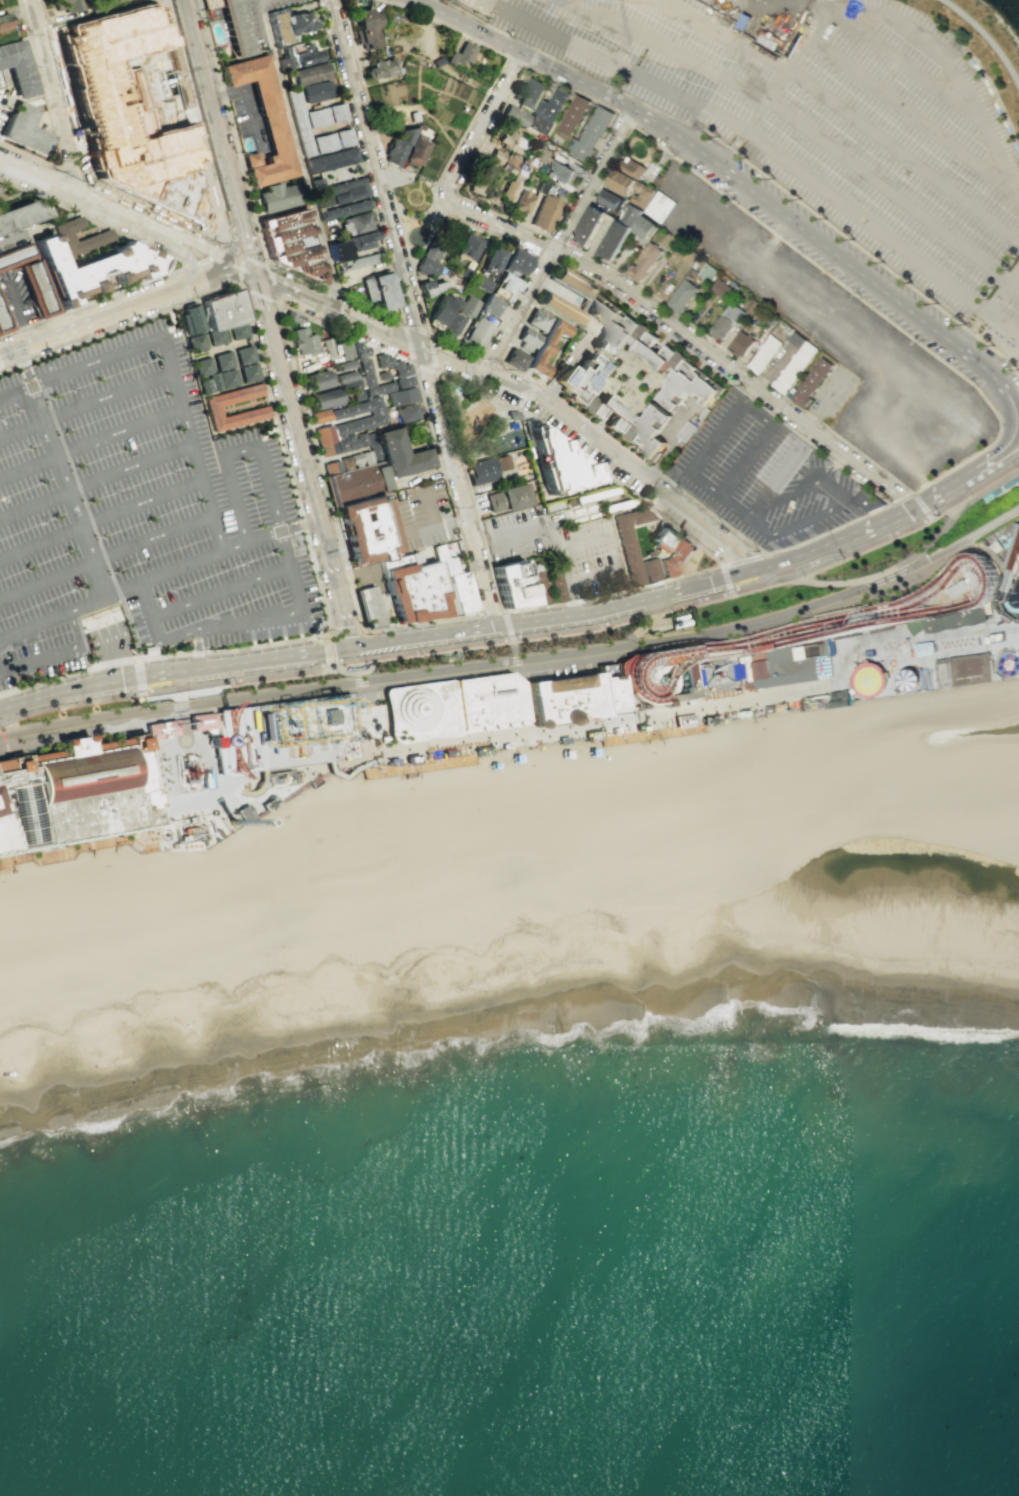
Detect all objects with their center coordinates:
building: (111, 1)
road: (786, 4)
building: (67, 5)
building: (298, 23)
road: (468, 24)
building: (4, 27)
building: (364, 27)
building: (277, 28)
park: (982, 35)
road: (985, 37)
road: (660, 52)
building: (459, 53)
building: (299, 57)
road: (801, 57)
road: (531, 58)
road: (516, 60)
road: (903, 66)
road: (617, 67)
building: (16, 68)
building: (379, 68)
building: (308, 74)
building: (317, 91)
road: (226, 92)
building: (255, 93)
building: (529, 93)
road: (417, 94)
road: (26, 96)
road: (55, 97)
parking lot: (5, 101)
road: (211, 105)
building: (132, 106)
road: (839, 107)
building: (546, 111)
building: (337, 112)
road: (47, 114)
parking lot: (248, 115)
building: (571, 115)
building: (515, 116)
building: (318, 117)
road: (627, 118)
road: (754, 119)
road: (195, 120)
building: (300, 120)
road: (482, 122)
road: (252, 123)
parking lot: (829, 127)
building: (22, 130)
road: (232, 133)
building: (589, 135)
building: (343, 137)
building: (325, 142)
building: (510, 142)
building: (397, 146)
road: (730, 149)
building: (415, 150)
road: (299, 153)
road: (83, 158)
building: (493, 159)
road: (251, 160)
building: (331, 160)
building: (533, 160)
building: (510, 161)
road: (235, 163)
road: (748, 163)
building: (629, 167)
building: (560, 171)
road: (1003, 171)
road: (376, 172)
road: (72, 175)
road: (418, 180)
road: (870, 181)
building: (617, 182)
road: (419, 184)
building: (676, 184)
building: (542, 185)
building: (508, 189)
road: (79, 193)
building: (340, 193)
building: (639, 195)
building: (276, 197)
road: (406, 200)
building: (607, 200)
building: (521, 202)
road: (1018, 202)
building: (664, 205)
building: (649, 207)
building: (344, 209)
park: (413, 209)
building: (545, 213)
building: (19, 214)
building: (629, 215)
building: (708, 215)
road: (783, 215)
building: (674, 221)
road: (863, 223)
building: (357, 224)
road: (47, 225)
road: (498, 225)
building: (587, 227)
building: (641, 228)
road: (378, 230)
road: (545, 232)
road: (234, 235)
building: (98, 236)
road: (425, 236)
road: (559, 239)
road: (221, 240)
building: (362, 241)
building: (613, 241)
road: (247, 242)
building: (666, 242)
building: (291, 244)
road: (213, 246)
building: (467, 246)
road: (233, 247)
road: (208, 251)
building: (337, 251)
building: (432, 251)
road: (183, 253)
road: (543, 256)
building: (493, 258)
road: (253, 260)
building: (362, 261)
building: (516, 261)
road: (199, 262)
building: (641, 262)
road: (182, 263)
road: (813, 264)
building: (425, 266)
building: (92, 268)
road: (238, 269)
building: (463, 273)
building: (30, 278)
road: (600, 282)
building: (480, 283)
building: (572, 284)
road: (272, 286)
road: (1013, 287)
building: (428, 288)
building: (503, 288)
building: (721, 290)
road: (1002, 290)
building: (378, 291)
road: (258, 295)
road: (513, 295)
building: (680, 296)
building: (488, 306)
building: (750, 306)
building: (467, 307)
building: (441, 309)
building: (558, 309)
road: (20, 311)
building: (222, 311)
road: (116, 313)
building: (292, 317)
building: (192, 319)
building: (537, 319)
building: (4, 320)
road: (402, 321)
building: (724, 321)
road: (171, 322)
building: (450, 325)
road: (1002, 326)
road: (118, 327)
building: (610, 328)
building: (785, 329)
road: (969, 329)
building: (239, 333)
building: (477, 335)
road: (394, 337)
building: (217, 338)
building: (527, 338)
building: (303, 342)
building: (197, 344)
building: (739, 344)
building: (326, 347)
building: (544, 347)
building: (345, 350)
building: (358, 350)
building: (653, 351)
building: (763, 353)
road: (173, 355)
road: (857, 355)
building: (245, 356)
building: (515, 359)
road: (487, 360)
building: (224, 362)
building: (793, 362)
road: (740, 363)
building: (346, 364)
building: (392, 365)
building: (364, 366)
road: (26, 368)
building: (202, 368)
road: (468, 368)
road: (737, 373)
building: (250, 374)
building: (345, 376)
building: (382, 376)
building: (228, 380)
building: (367, 380)
building: (577, 380)
building: (315, 381)
building: (215, 382)
building: (403, 382)
building: (809, 383)
building: (206, 387)
building: (353, 389)
building: (378, 389)
building: (687, 389)
road: (478, 390)
building: (402, 396)
building: (326, 399)
road: (88, 403)
building: (253, 413)
building: (402, 413)
building: (604, 414)
building: (703, 415)
building: (318, 416)
road: (1017, 416)
building: (373, 417)
park: (480, 421)
road: (267, 429)
building: (685, 432)
building: (646, 434)
road: (1011, 434)
road: (591, 436)
building: (362, 439)
building: (325, 440)
road: (92, 442)
building: (351, 442)
building: (341, 444)
building: (373, 445)
road: (1013, 450)
building: (400, 455)
road: (700, 455)
building: (366, 457)
road: (284, 459)
road: (306, 459)
building: (355, 459)
building: (967, 462)
building: (345, 463)
road: (320, 467)
building: (331, 467)
building: (555, 467)
road: (833, 467)
building: (486, 468)
road: (442, 474)
parking lot: (761, 476)
road: (97, 480)
road: (960, 481)
road: (652, 483)
building: (358, 484)
road: (457, 485)
road: (972, 487)
road: (69, 490)
building: (595, 495)
road: (898, 497)
building: (507, 499)
building: (866, 500)
building: (567, 501)
road: (918, 503)
road: (838, 504)
building: (550, 505)
building: (618, 505)
road: (856, 514)
parking lot: (137, 515)
road: (102, 519)
road: (91, 520)
road: (871, 524)
railway: (991, 526)
road: (304, 527)
road: (711, 527)
building: (365, 532)
road: (512, 532)
parking lot: (516, 533)
building: (663, 539)
road: (582, 540)
road: (254, 541)
building: (630, 541)
road: (612, 550)
road: (106, 556)
parking lot: (588, 557)
building: (674, 558)
railway: (932, 558)
road: (291, 559)
building: (393, 563)
road: (726, 563)
building: (1011, 563)
road: (886, 569)
building: (650, 570)
road: (563, 575)
road: (591, 575)
building: (972, 577)
building: (554, 583)
building: (452, 584)
road: (729, 585)
road: (890, 585)
building: (538, 586)
building: (503, 588)
road: (222, 591)
road: (110, 592)
road: (612, 592)
building: (413, 593)
road: (671, 594)
building: (368, 607)
road: (490, 611)
road: (895, 614)
road: (504, 616)
building: (1002, 621)
building: (945, 622)
road: (644, 624)
road: (80, 631)
road: (509, 631)
road: (594, 631)
road: (326, 633)
road: (897, 633)
road: (427, 635)
road: (113, 636)
building: (995, 637)
road: (469, 641)
traffic signals: (347, 647)
road: (231, 648)
building: (147, 649)
building: (922, 649)
road: (612, 653)
road: (943, 653)
road: (35, 662)
road: (468, 664)
building: (788, 667)
road: (368, 668)
road: (172, 670)
road: (345, 671)
railway: (460, 671)
building: (964, 671)
road: (67, 675)
road: (140, 678)
building: (655, 678)
road: (143, 688)
building: (608, 690)
road: (929, 691)
road: (523, 695)
road: (256, 697)
building: (563, 701)
building: (838, 701)
road: (178, 703)
building: (816, 704)
road: (706, 705)
building: (790, 706)
building: (451, 707)
building: (767, 709)
road: (144, 711)
road: (366, 714)
building: (744, 714)
theme park: (503, 715)
road: (163, 717)
road: (181, 718)
building: (708, 721)
building: (638, 728)
road: (75, 729)
building: (612, 730)
building: (298, 732)
building: (591, 735)
railway: (6, 736)
building: (561, 740)
road: (3, 742)
building: (480, 750)
road: (387, 753)
building: (409, 760)
building: (391, 762)
building: (14, 765)
road: (303, 766)
road: (351, 771)
road: (260, 778)
building: (273, 778)
building: (92, 785)
road: (236, 787)
road: (237, 791)
building: (268, 803)
road: (343, 804)
building: (243, 811)
building: (19, 812)
road: (181, 816)
road: (310, 823)
road: (98, 831)
road: (78, 832)
building: (3, 836)
road: (99, 838)
building: (336, 843)
road: (77, 846)
building: (673, 929)
river: (954, 950)
building: (211, 993)

